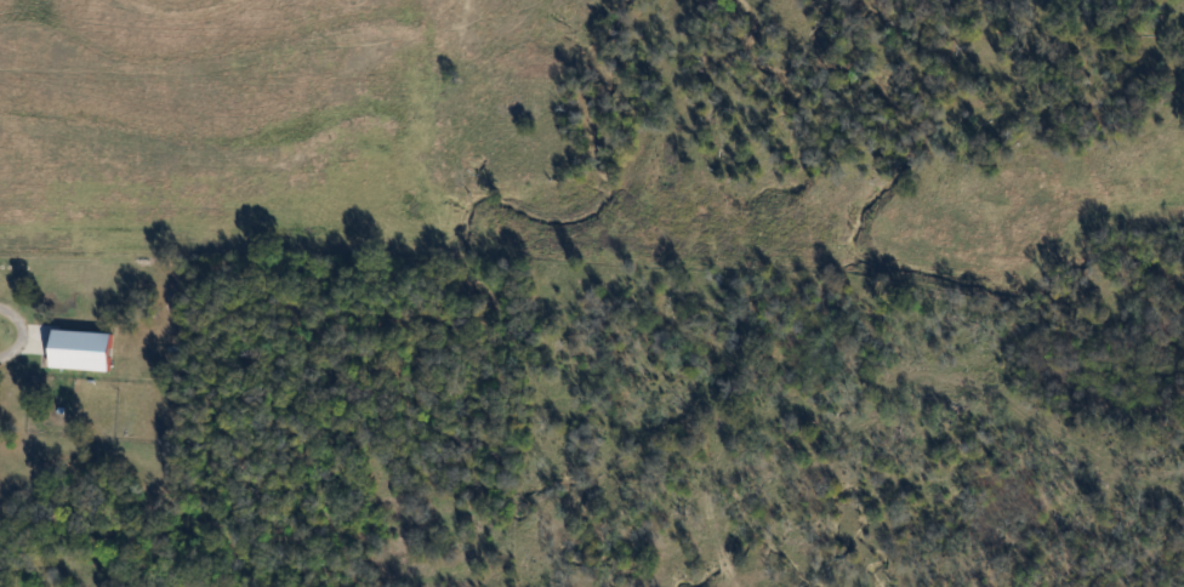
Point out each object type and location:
road: (13, 330)

